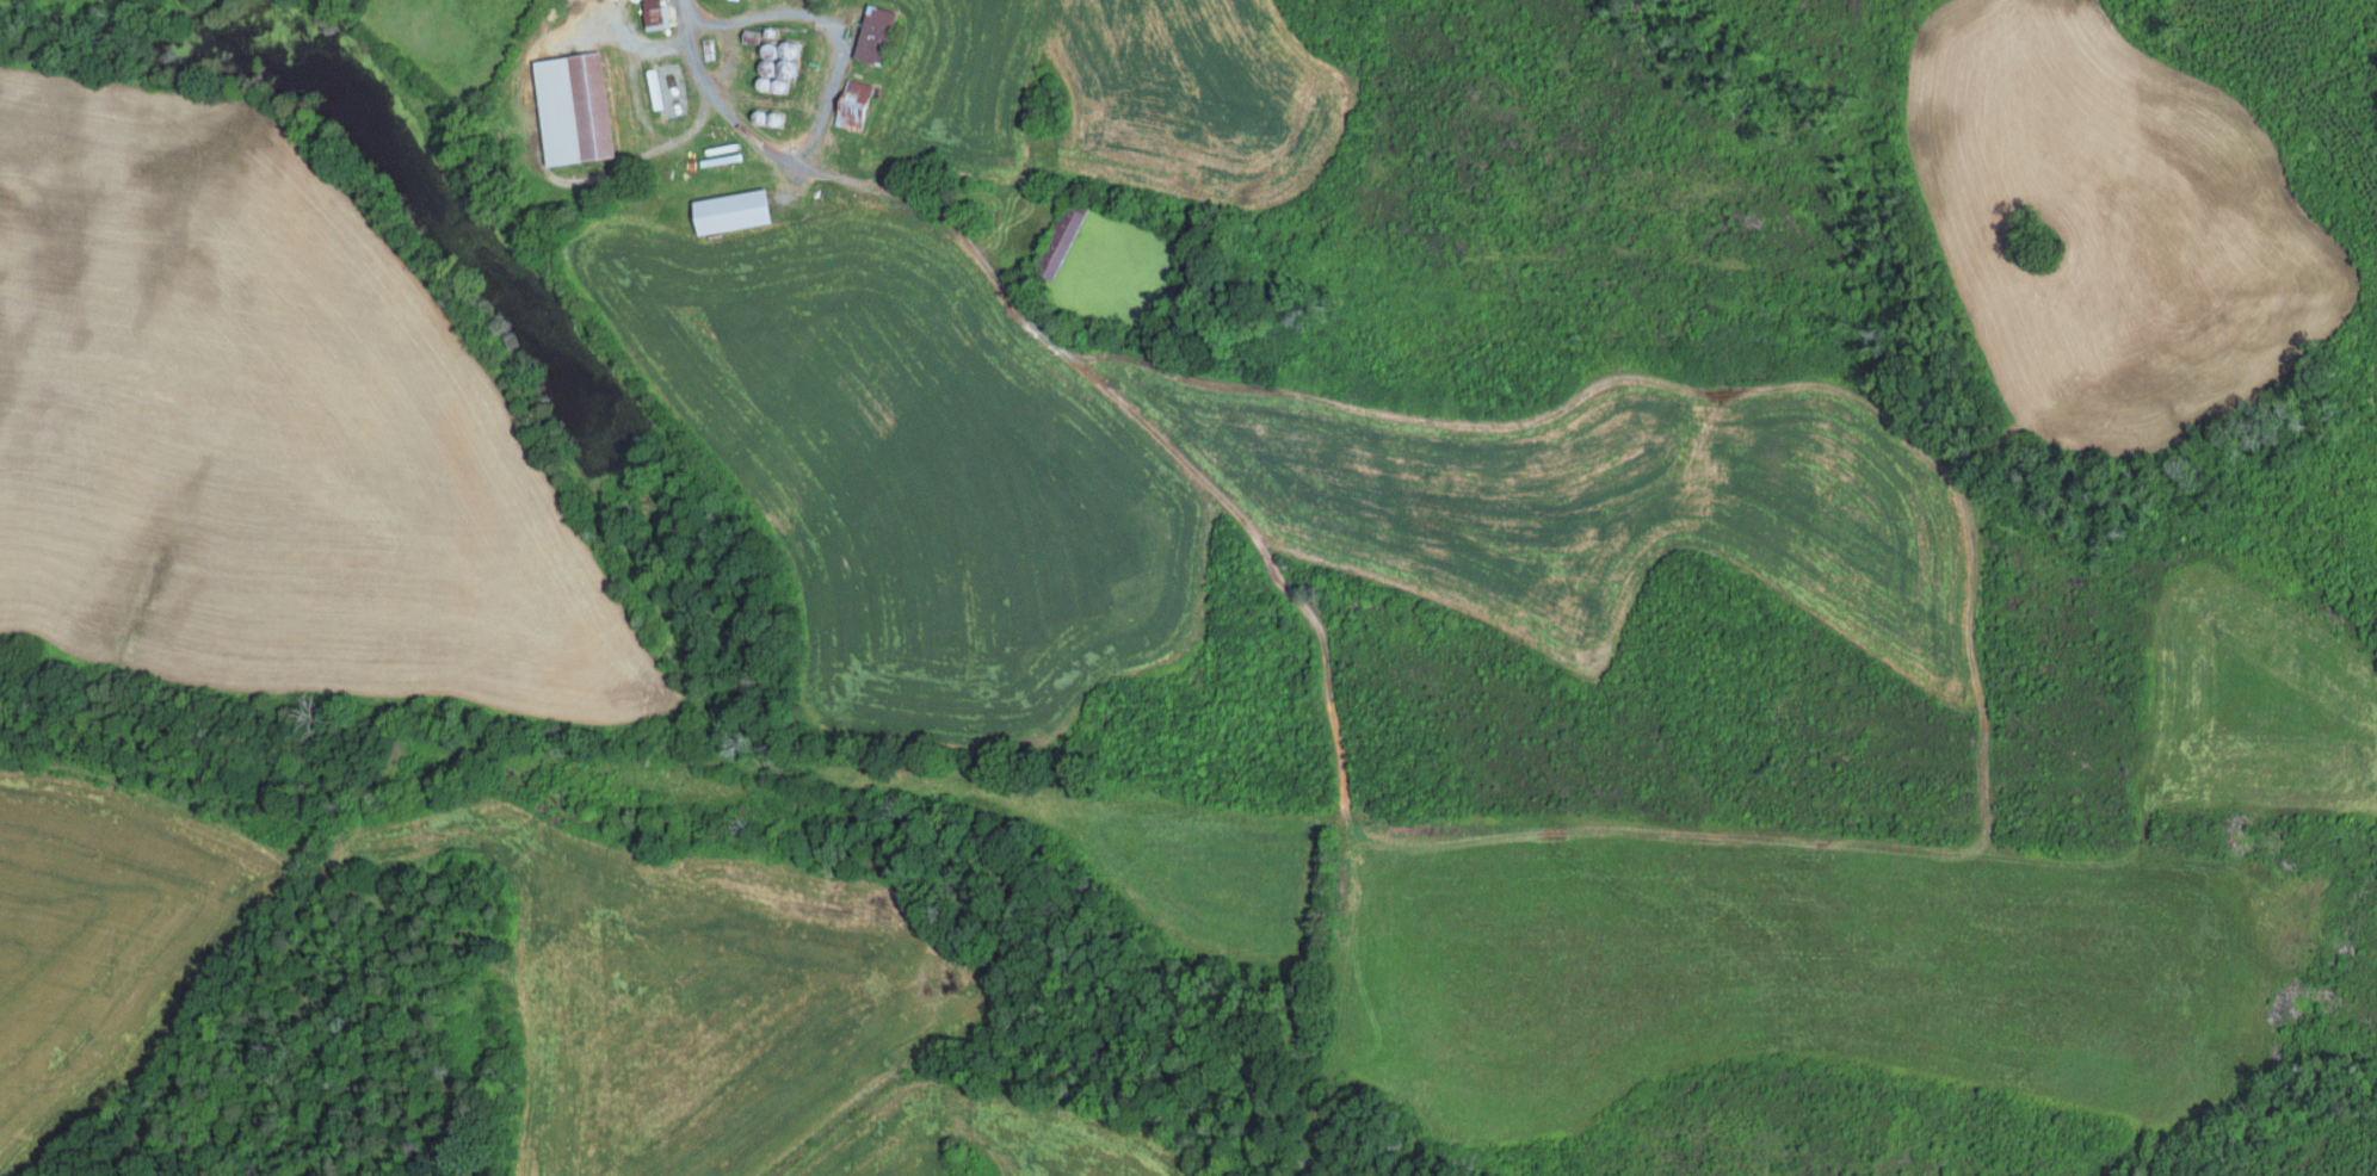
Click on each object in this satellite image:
building: (653, 13)
building: (872, 33)
building: (773, 60)
building: (661, 88)
building: (852, 105)
building: (572, 107)
road: (764, 146)
building: (729, 211)
building: (1056, 243)
road: (1299, 605)
road: (150, 797)

